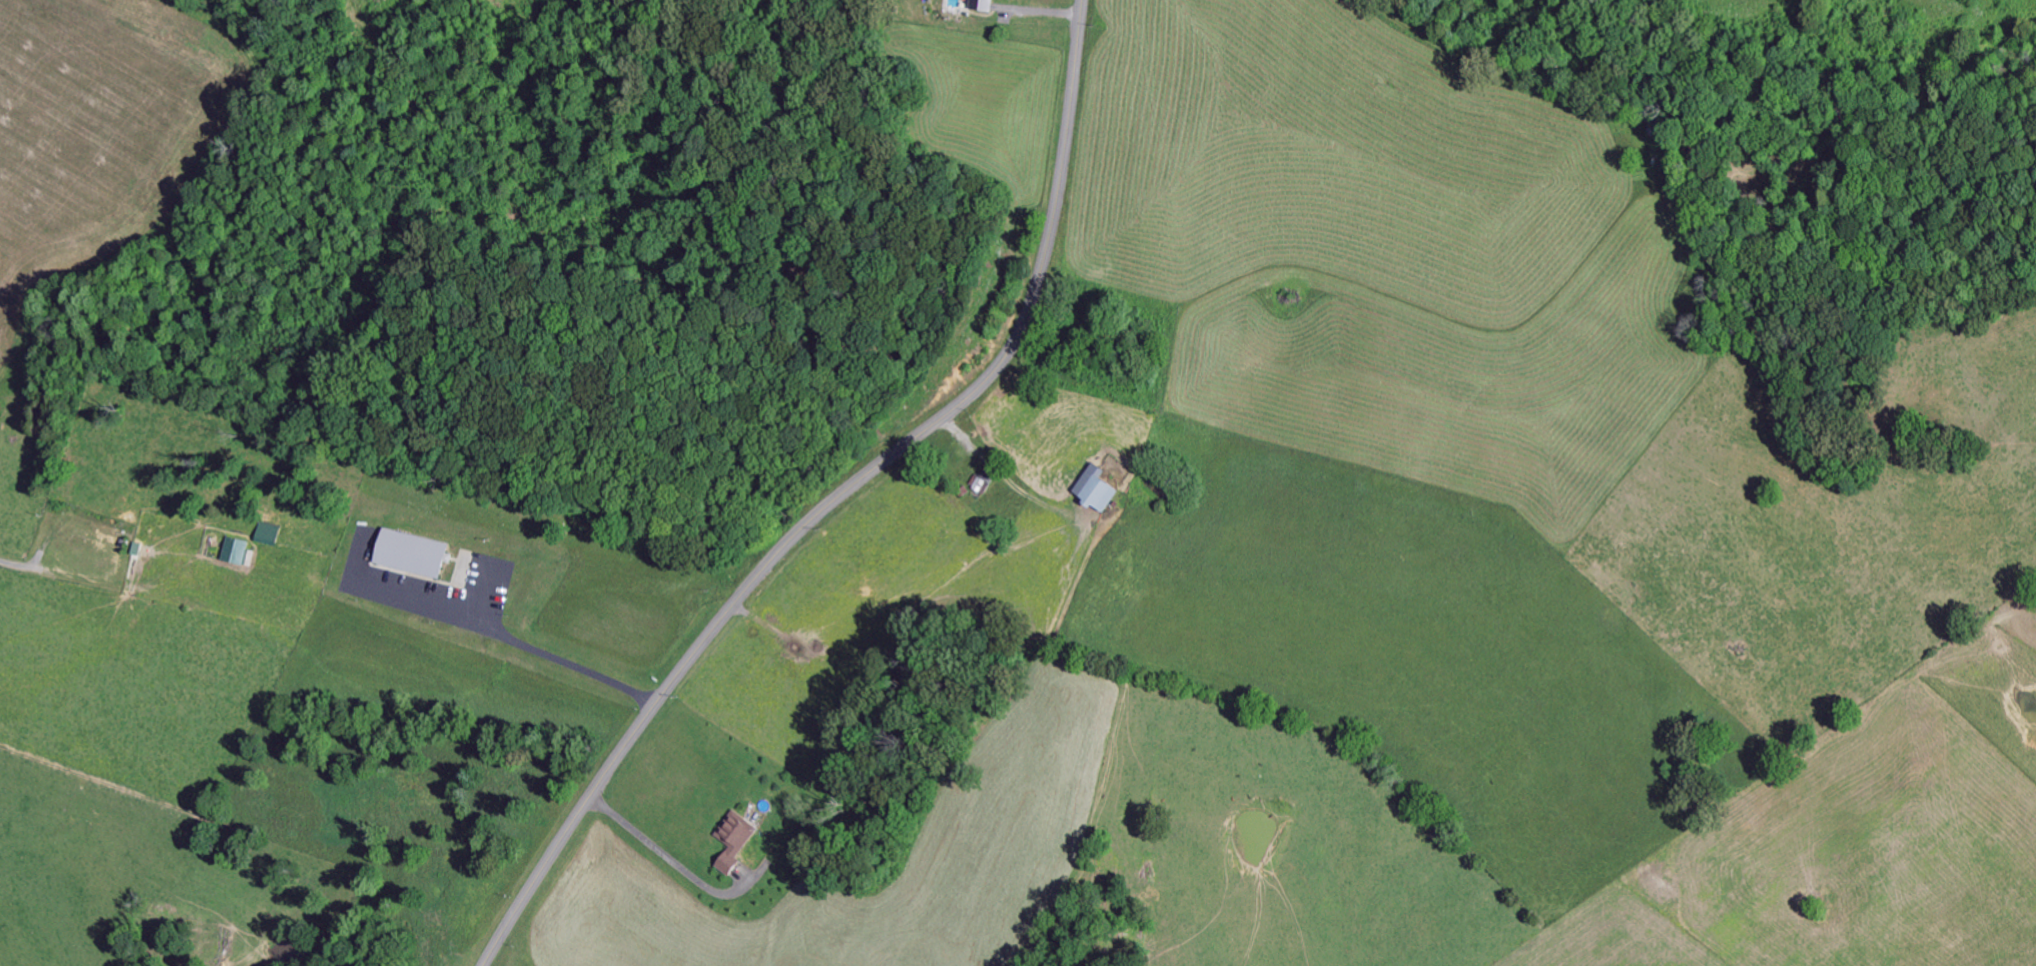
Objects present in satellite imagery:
building: (977, 6)
building: (977, 484)
building: (1090, 493)
road: (838, 499)
building: (262, 537)
building: (230, 554)
building: (405, 556)
building: (729, 843)

